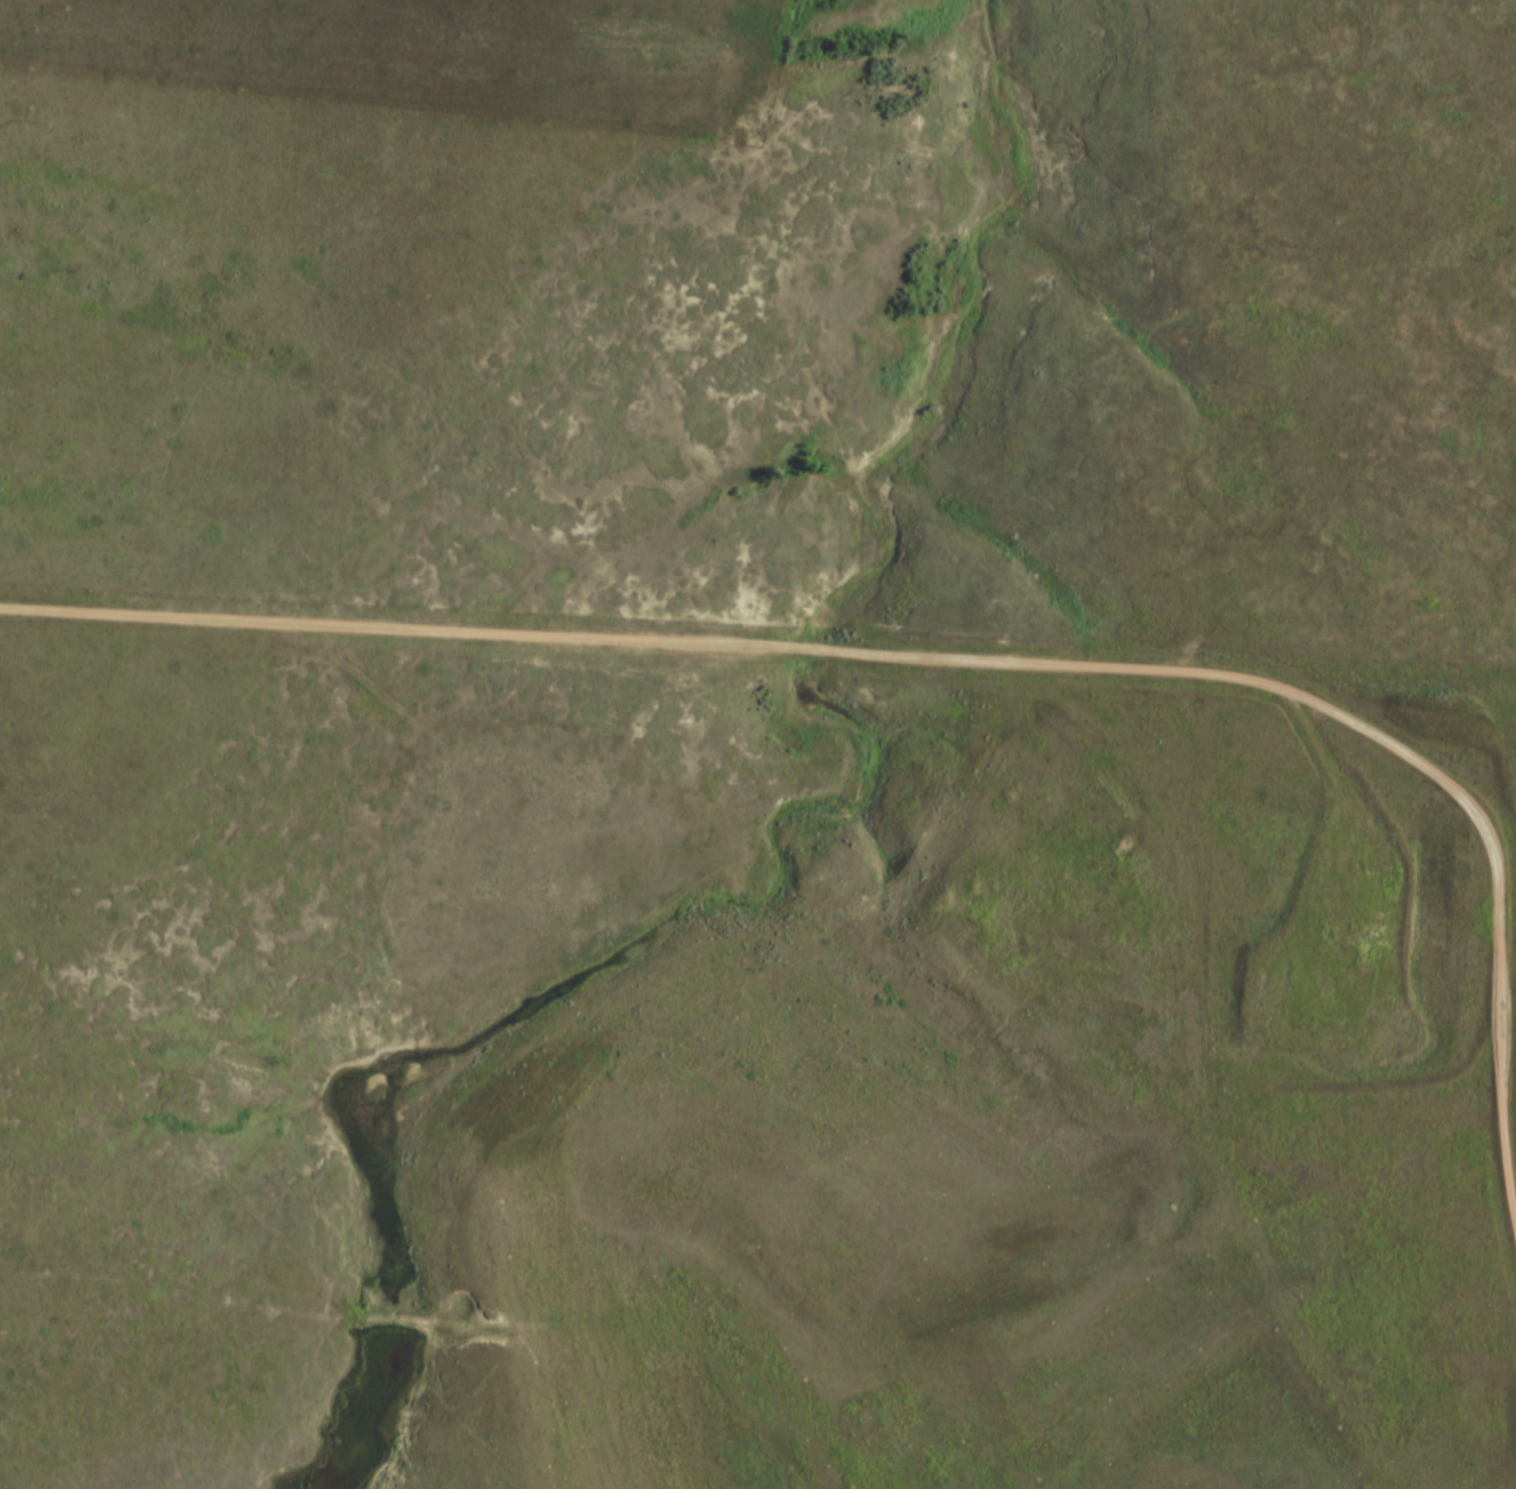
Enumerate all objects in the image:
road: (980, 650)
road: (255, 1307)

